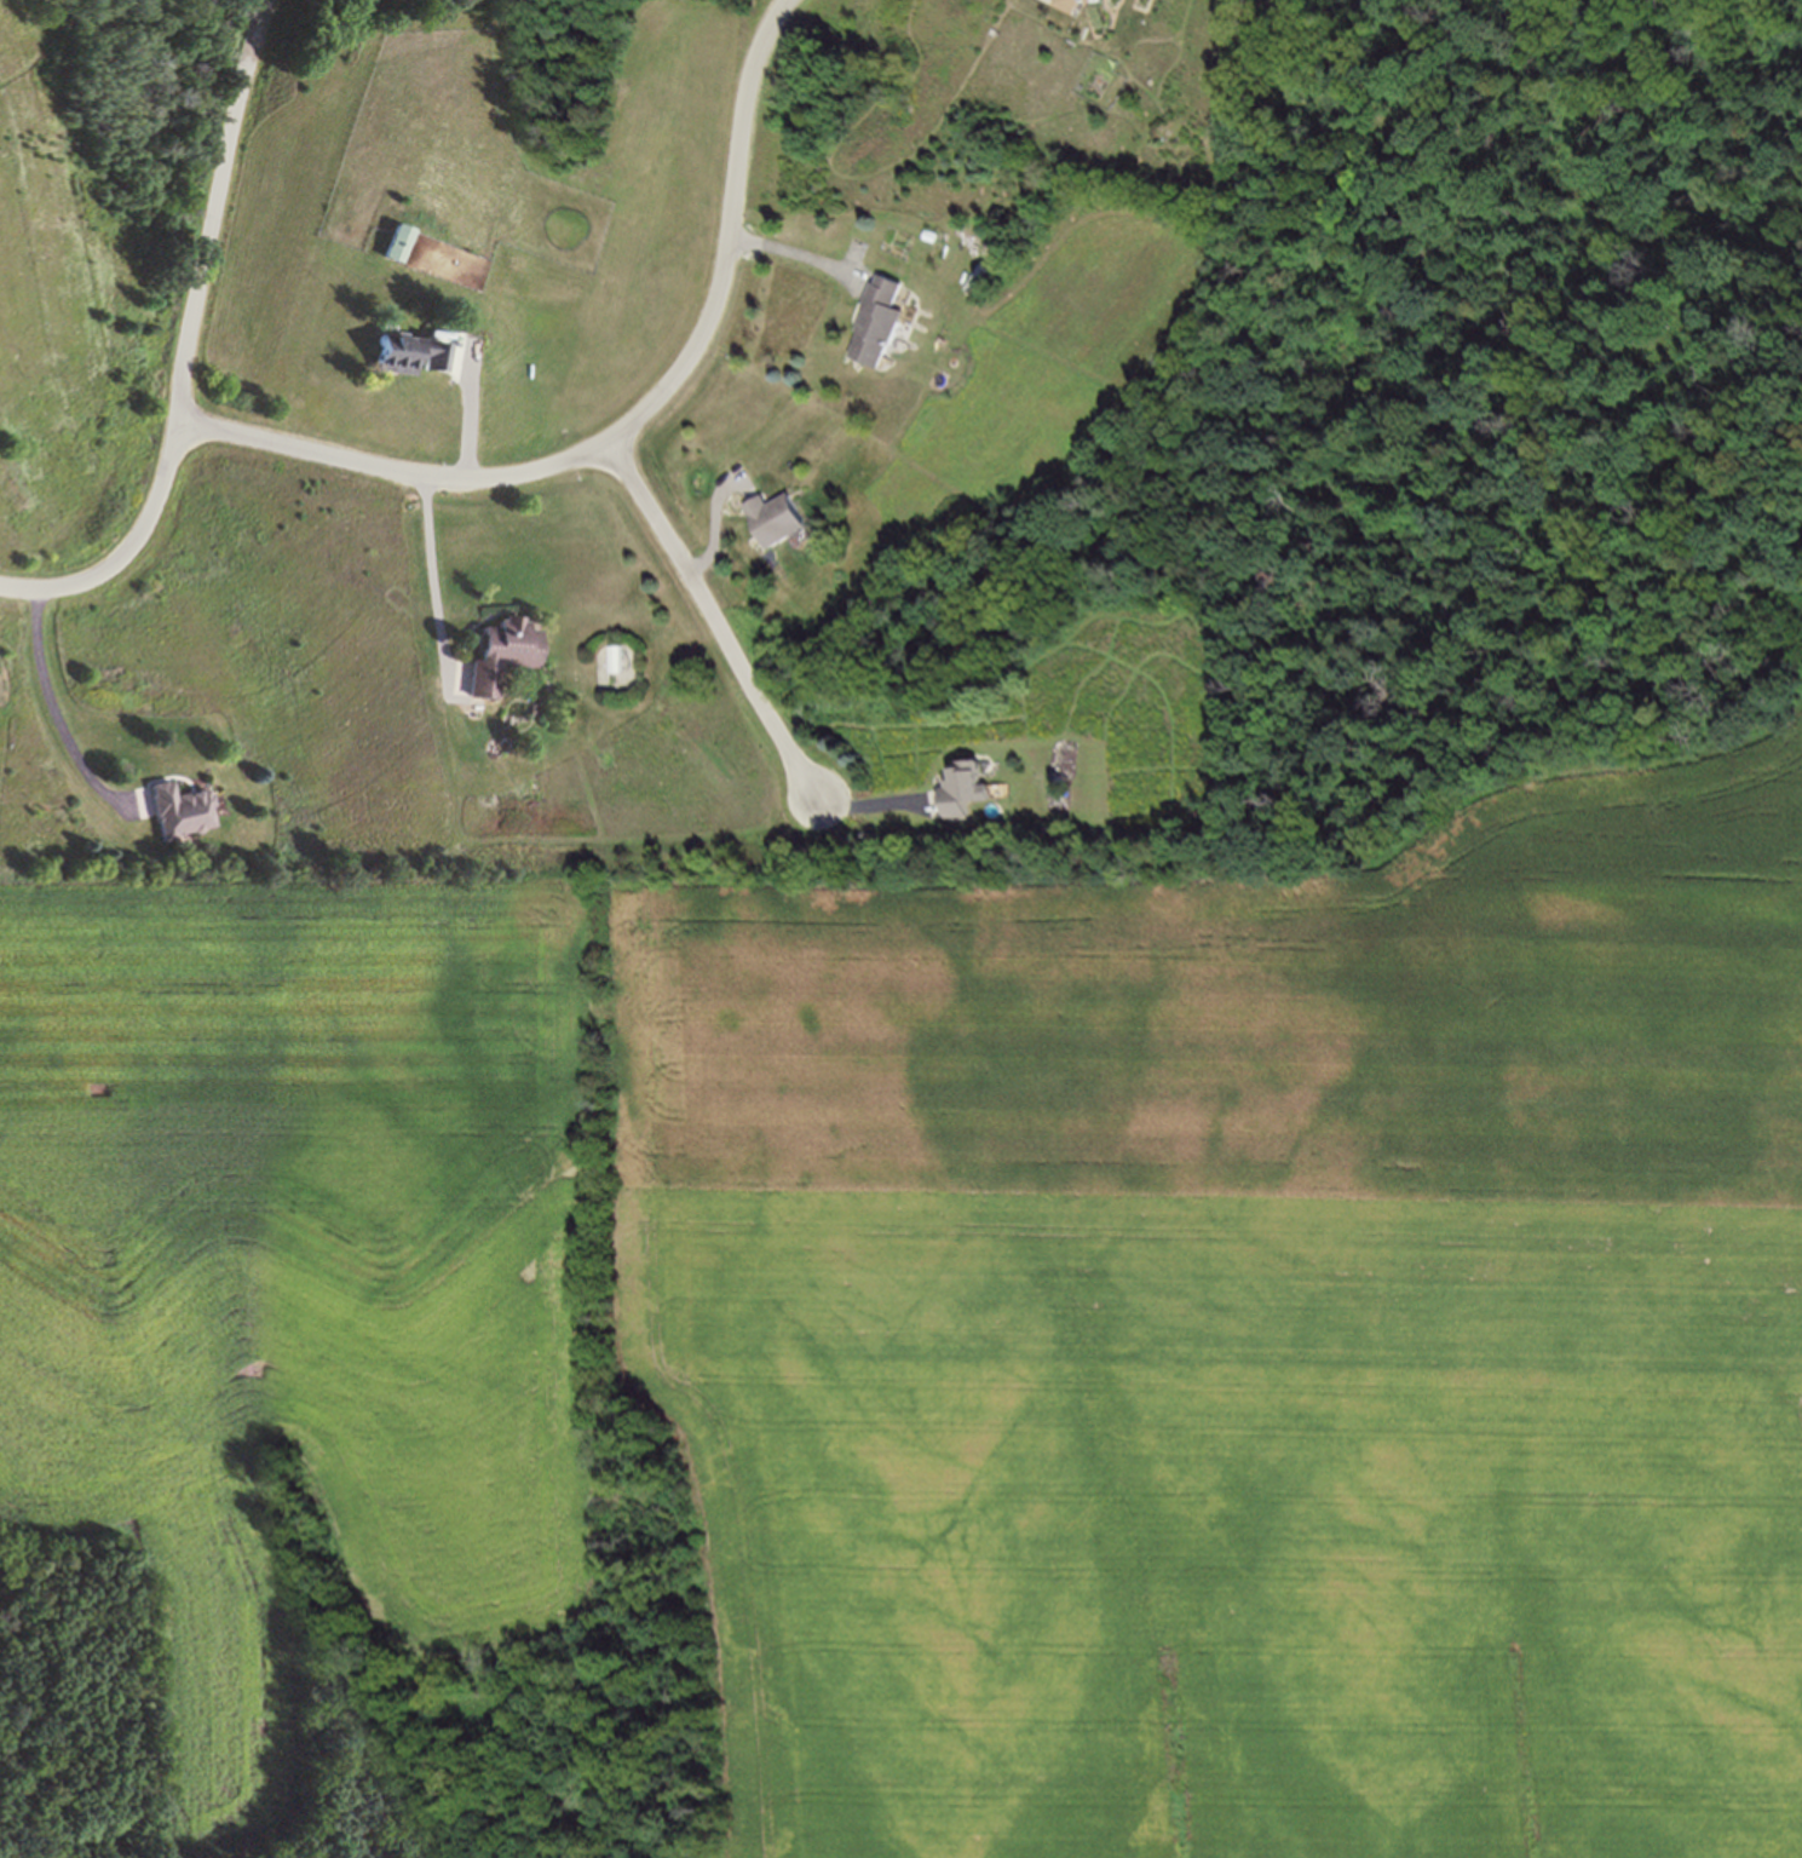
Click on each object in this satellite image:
building: (1110, 0)
building: (1084, 8)
building: (396, 247)
road: (791, 248)
building: (879, 327)
road: (184, 343)
building: (410, 357)
road: (473, 420)
road: (624, 431)
building: (777, 520)
road: (721, 529)
road: (439, 576)
road: (710, 623)
building: (501, 660)
road: (50, 708)
building: (966, 793)
road: (873, 803)
building: (179, 813)

